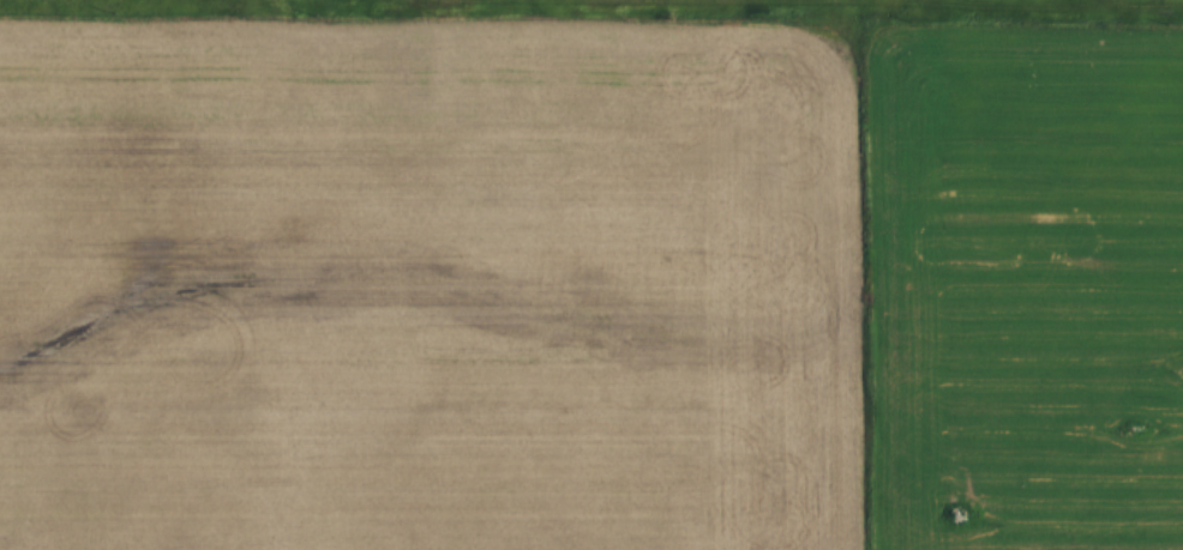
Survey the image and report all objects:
road: (1075, 0)

